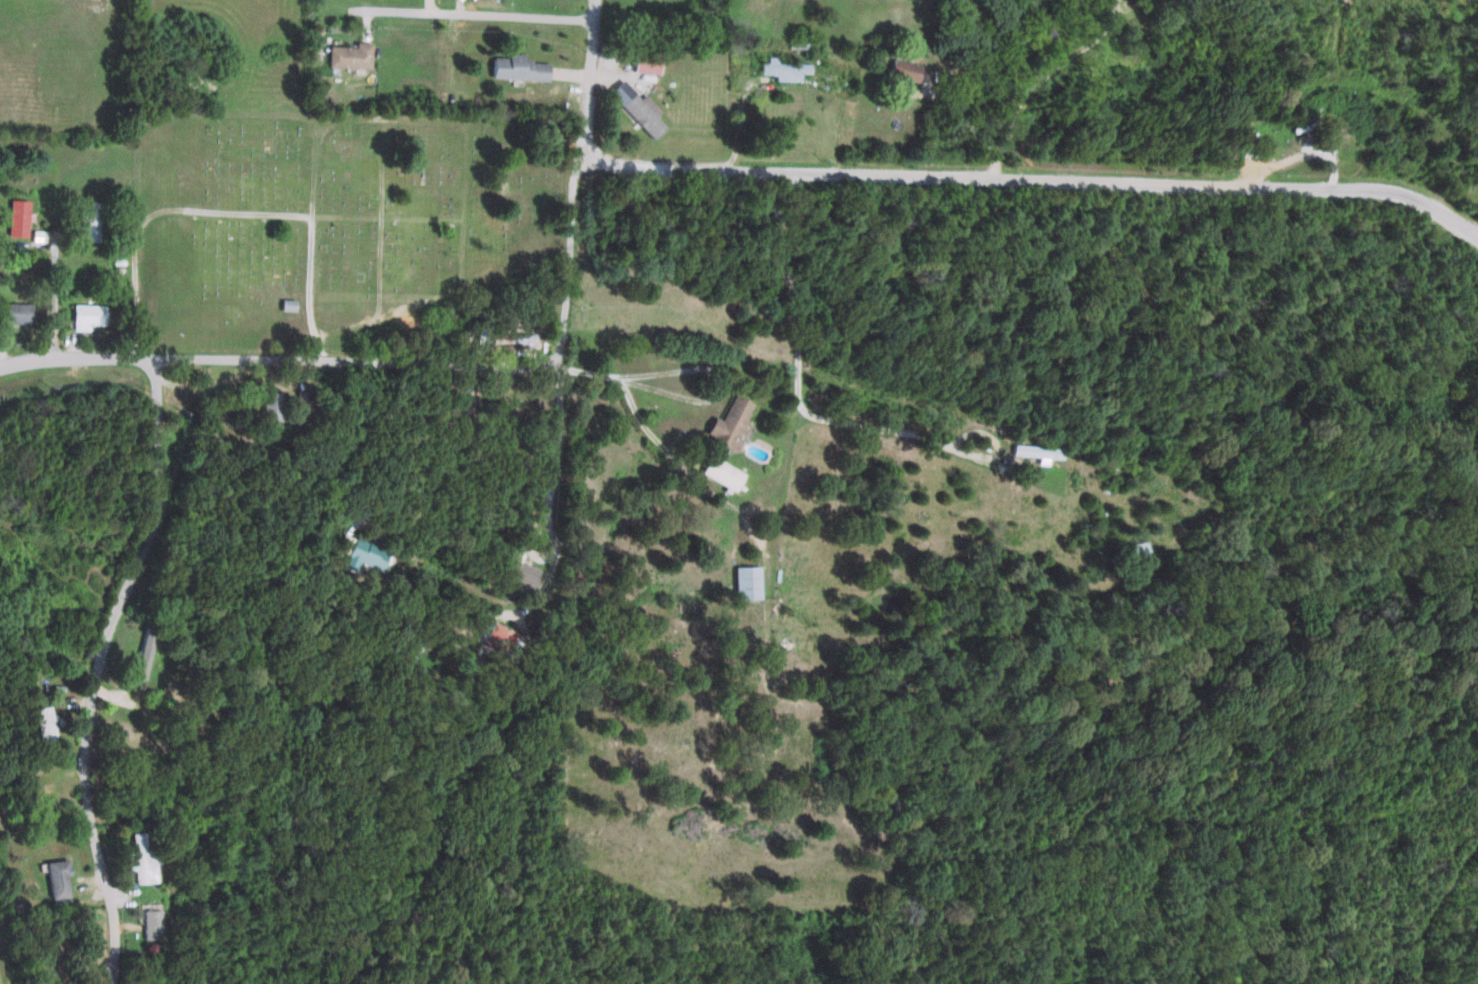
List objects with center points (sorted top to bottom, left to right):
building: (346, 55)
building: (640, 61)
building: (514, 67)
building: (777, 69)
building: (900, 69)
road: (1033, 78)
building: (633, 108)
road: (1030, 179)
road: (566, 182)
road: (227, 210)
building: (14, 217)
park: (330, 220)
building: (84, 222)
building: (35, 237)
building: (284, 304)
building: (12, 312)
building: (82, 315)
road: (62, 358)
road: (324, 358)
road: (537, 364)
road: (627, 395)
building: (300, 400)
building: (266, 406)
building: (726, 423)
building: (1032, 451)
road: (542, 461)
building: (718, 472)
road: (366, 477)
building: (357, 552)
building: (513, 571)
building: (744, 582)
building: (489, 635)
building: (140, 655)
road: (95, 667)
building: (40, 725)
building: (43, 804)
building: (137, 859)
building: (53, 878)
building: (146, 924)

